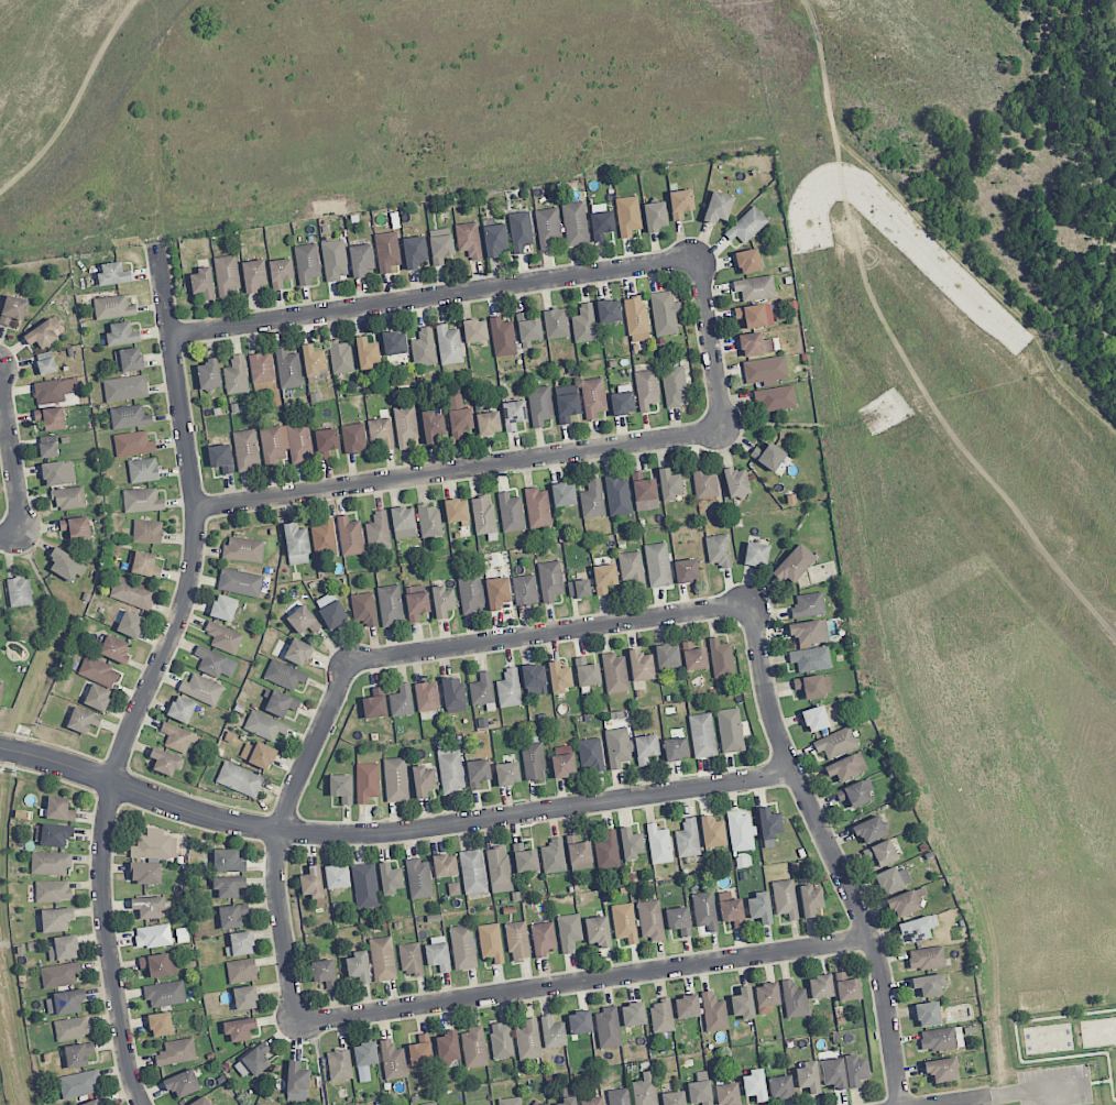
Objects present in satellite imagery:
building: (680, 204)
building: (718, 207)
building: (627, 216)
building: (655, 216)
building: (600, 221)
building: (575, 223)
building: (746, 226)
building: (547, 229)
building: (519, 231)
building: (495, 239)
building: (469, 240)
building: (440, 249)
building: (386, 251)
building: (414, 252)
building: (335, 260)
building: (361, 260)
building: (747, 261)
building: (306, 263)
building: (280, 272)
building: (113, 274)
building: (226, 275)
building: (253, 275)
building: (203, 283)
building: (755, 287)
road: (435, 298)
building: (113, 307)
building: (12, 309)
building: (609, 310)
building: (665, 313)
building: (751, 316)
building: (636, 317)
building: (556, 324)
building: (583, 324)
building: (528, 328)
building: (474, 330)
building: (122, 333)
building: (42, 335)
building: (502, 337)
building: (394, 342)
building: (449, 344)
building: (755, 344)
building: (424, 348)
building: (366, 353)
building: (340, 357)
building: (129, 360)
building: (313, 360)
road: (0, 362)
building: (46, 366)
building: (261, 366)
building: (288, 369)
building: (765, 371)
building: (208, 375)
building: (236, 375)
building: (675, 385)
building: (125, 389)
building: (54, 390)
building: (646, 390)
building: (593, 397)
building: (774, 398)
building: (622, 403)
building: (539, 405)
building: (567, 407)
building: (458, 414)
building: (513, 414)
building: (129, 417)
building: (51, 418)
building: (488, 423)
building: (405, 425)
building: (433, 426)
building: (381, 433)
building: (353, 438)
building: (326, 442)
building: (133, 444)
building: (286, 444)
building: (47, 449)
road: (12, 450)
building: (245, 450)
building: (768, 456)
building: (220, 458)
road: (549, 459)
building: (143, 470)
building: (58, 473)
building: (705, 483)
building: (736, 483)
building: (669, 484)
building: (644, 492)
building: (562, 494)
building: (617, 495)
building: (69, 497)
building: (592, 500)
building: (142, 501)
building: (538, 507)
building: (456, 511)
building: (511, 513)
building: (483, 515)
building: (429, 521)
building: (403, 523)
building: (76, 528)
building: (378, 530)
building: (147, 532)
building: (350, 536)
building: (324, 537)
road: (12, 539)
building: (296, 545)
building: (243, 549)
building: (719, 550)
building: (756, 554)
building: (794, 564)
building: (66, 565)
building: (143, 565)
building: (658, 565)
building: (632, 568)
building: (686, 570)
building: (604, 578)
building: (550, 580)
building: (240, 582)
building: (578, 589)
building: (525, 590)
building: (19, 591)
building: (497, 592)
building: (0, 593)
building: (132, 593)
building: (471, 593)
building: (442, 601)
building: (808, 604)
building: (390, 605)
building: (416, 605)
building: (223, 608)
building: (363, 609)
building: (330, 610)
building: (303, 620)
building: (130, 624)
building: (809, 632)
road: (550, 634)
building: (223, 637)
building: (114, 648)
building: (297, 652)
building: (694, 655)
building: (667, 656)
building: (721, 658)
building: (810, 658)
building: (215, 664)
building: (641, 665)
building: (99, 671)
building: (587, 672)
building: (615, 674)
road: (154, 675)
building: (284, 675)
building: (559, 677)
building: (534, 680)
building: (812, 687)
building: (508, 688)
building: (201, 689)
building: (1, 690)
building: (482, 691)
building: (453, 694)
building: (427, 696)
building: (97, 697)
building: (402, 701)
building: (278, 703)
building: (374, 703)
building: (182, 709)
building: (814, 719)
building: (83, 720)
building: (264, 725)
building: (730, 730)
building: (702, 735)
building: (178, 737)
building: (835, 743)
building: (617, 747)
building: (645, 748)
building: (675, 748)
building: (591, 754)
building: (259, 755)
building: (533, 759)
building: (165, 762)
building: (564, 765)
building: (846, 767)
building: (451, 772)
building: (478, 773)
building: (507, 774)
building: (239, 779)
building: (395, 779)
building: (423, 780)
building: (366, 781)
building: (341, 788)
building: (855, 792)
building: (59, 809)
building: (769, 825)
building: (869, 830)
building: (741, 831)
road: (393, 832)
building: (712, 832)
building: (50, 834)
road: (281, 838)
building: (688, 839)
building: (631, 843)
building: (154, 844)
building: (659, 844)
building: (606, 851)
building: (580, 853)
road: (831, 853)
building: (880, 853)
building: (552, 856)
building: (524, 858)
building: (228, 861)
building: (50, 864)
building: (445, 865)
building: (499, 869)
building: (472, 872)
building: (145, 873)
building: (337, 877)
building: (390, 878)
building: (418, 878)
building: (893, 879)
building: (311, 883)
building: (229, 886)
building: (365, 886)
building: (53, 890)
building: (725, 896)
building: (785, 898)
building: (810, 900)
building: (906, 901)
building: (147, 907)
building: (759, 908)
building: (704, 910)
building: (732, 912)
building: (232, 916)
building: (56, 919)
building: (650, 920)
building: (679, 920)
building: (624, 922)
building: (916, 929)
building: (569, 931)
building: (598, 931)
building: (153, 937)
building: (543, 938)
building: (517, 940)
building: (491, 942)
building: (240, 944)
building: (64, 948)
building: (463, 948)
building: (438, 956)
building: (926, 958)
building: (382, 959)
building: (411, 959)
building: (160, 964)
building: (358, 966)
building: (241, 970)
building: (325, 973)
building: (59, 974)
road: (583, 983)
building: (928, 985)
building: (820, 986)
building: (847, 987)
building: (165, 994)
building: (245, 997)
building: (766, 997)
building: (794, 999)
building: (65, 1003)
building: (742, 1004)
building: (687, 1006)
building: (713, 1013)
building: (633, 1014)
building: (927, 1014)
building: (661, 1016)
building: (580, 1022)
building: (161, 1024)
building: (73, 1028)
building: (608, 1028)
building: (239, 1029)
building: (552, 1032)
building: (940, 1039)
building: (527, 1040)
building: (501, 1041)
building: (448, 1046)
building: (473, 1048)
building: (420, 1050)
building: (176, 1052)
building: (78, 1054)
building: (364, 1060)
building: (252, 1061)
building: (393, 1061)
building: (339, 1064)
building: (855, 1070)
building: (942, 1070)
building: (833, 1073)
building: (701, 1075)
building: (808, 1076)
building: (297, 1082)
building: (183, 1083)
building: (79, 1084)
building: (754, 1085)
building: (780, 1087)
building: (645, 1090)
building: (700, 1093)
road: (1038, 1093)
building: (727, 1094)
building: (620, 1096)
building: (674, 1098)
building: (510, 1101)
building: (568, 1101)
building: (592, 1101)
building: (200, 1102)
road: (973, 1102)
building: (92, 1103)
building: (431, 1104)
building: (466, 1104)
building: (546, 1104)

